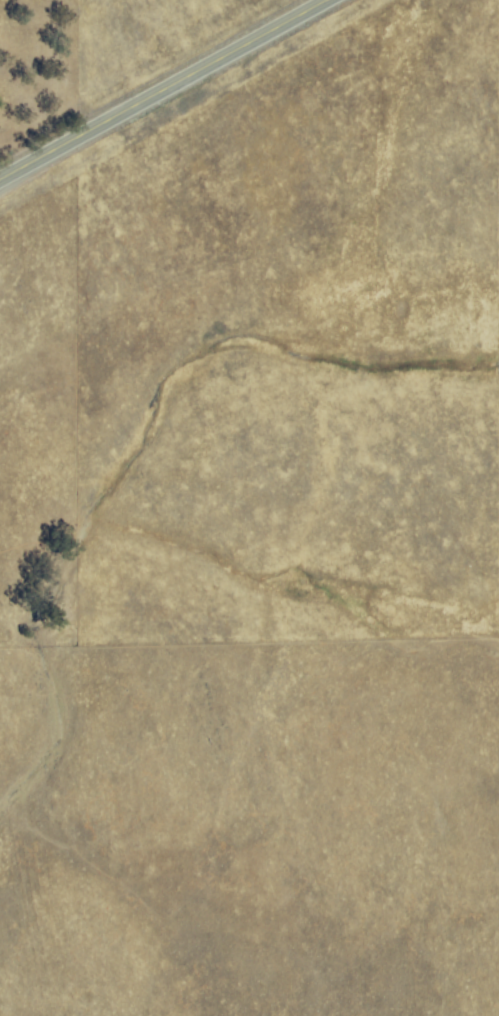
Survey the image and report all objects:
road: (162, 88)
road: (28, 865)

